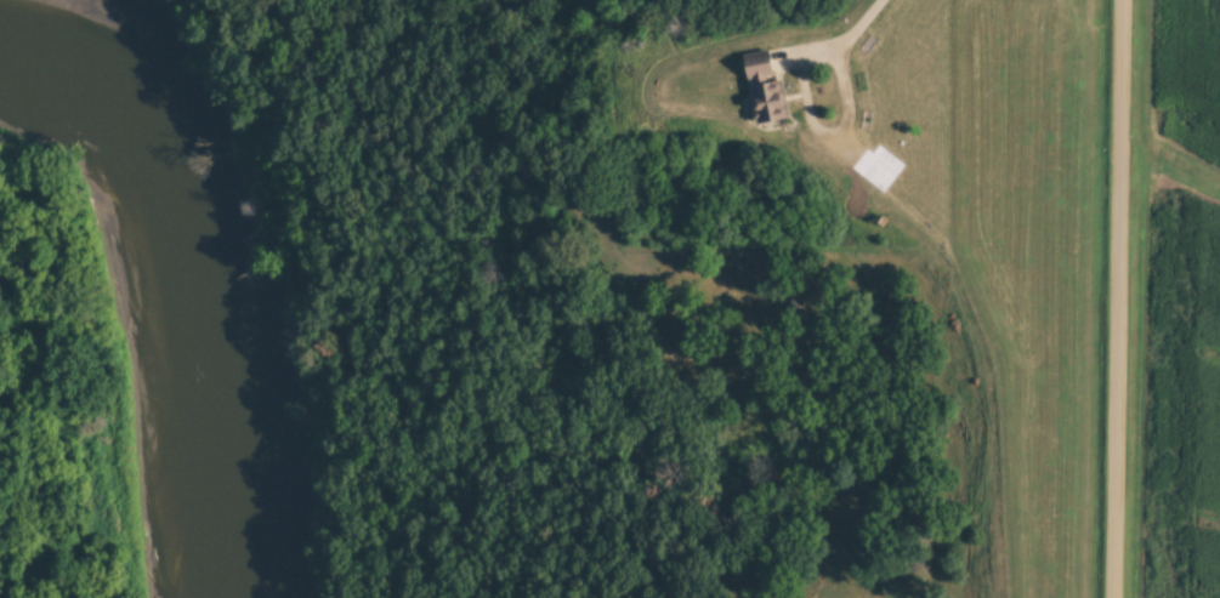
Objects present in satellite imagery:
building: (767, 85)
river: (191, 296)
road: (1113, 298)

